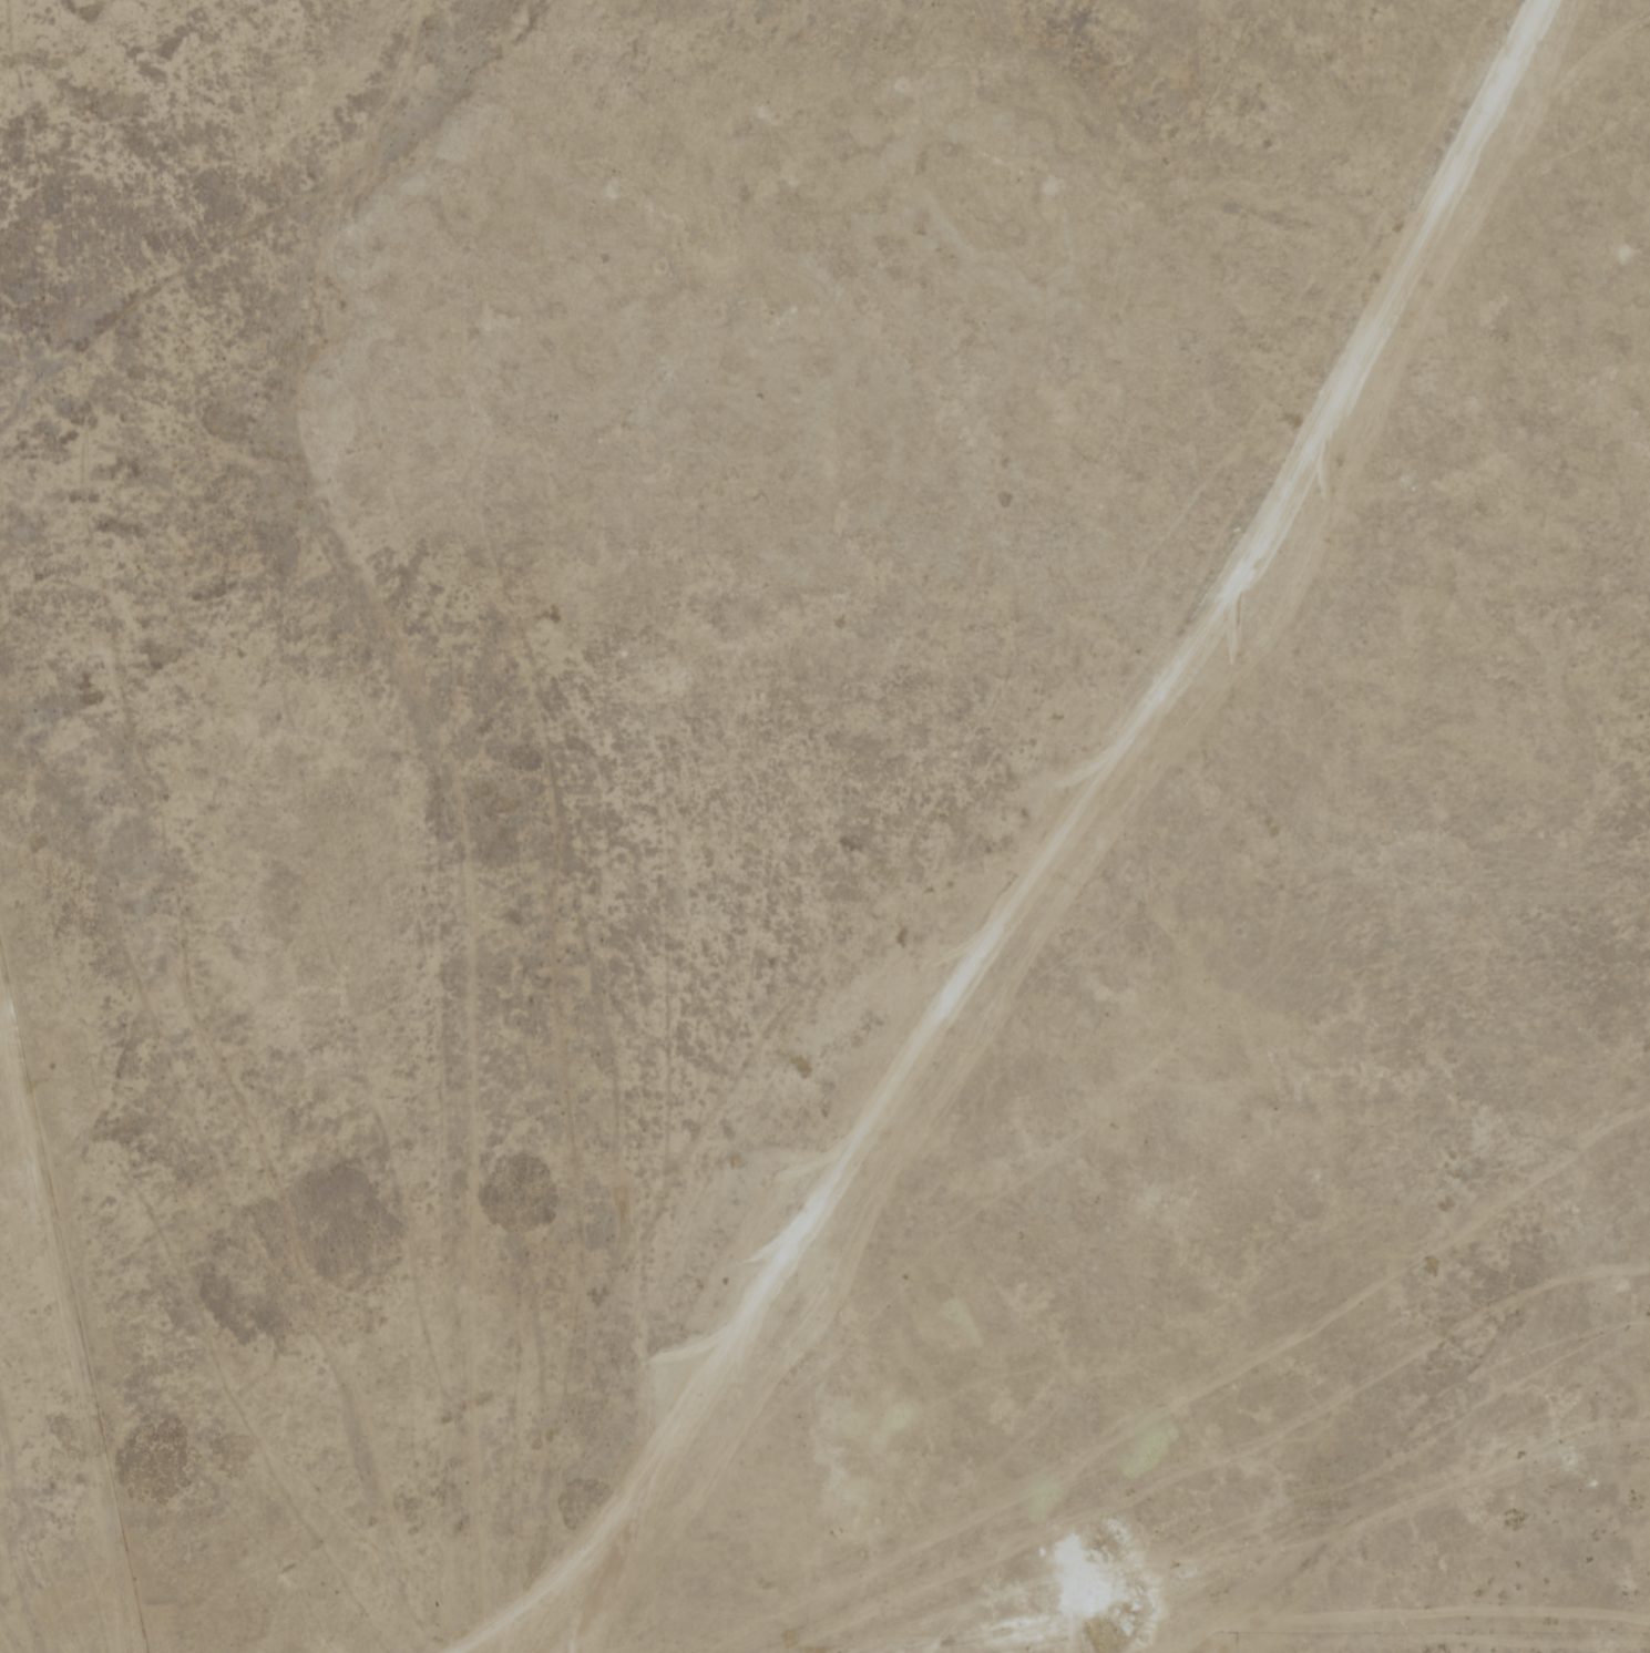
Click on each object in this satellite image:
road: (1083, 872)

